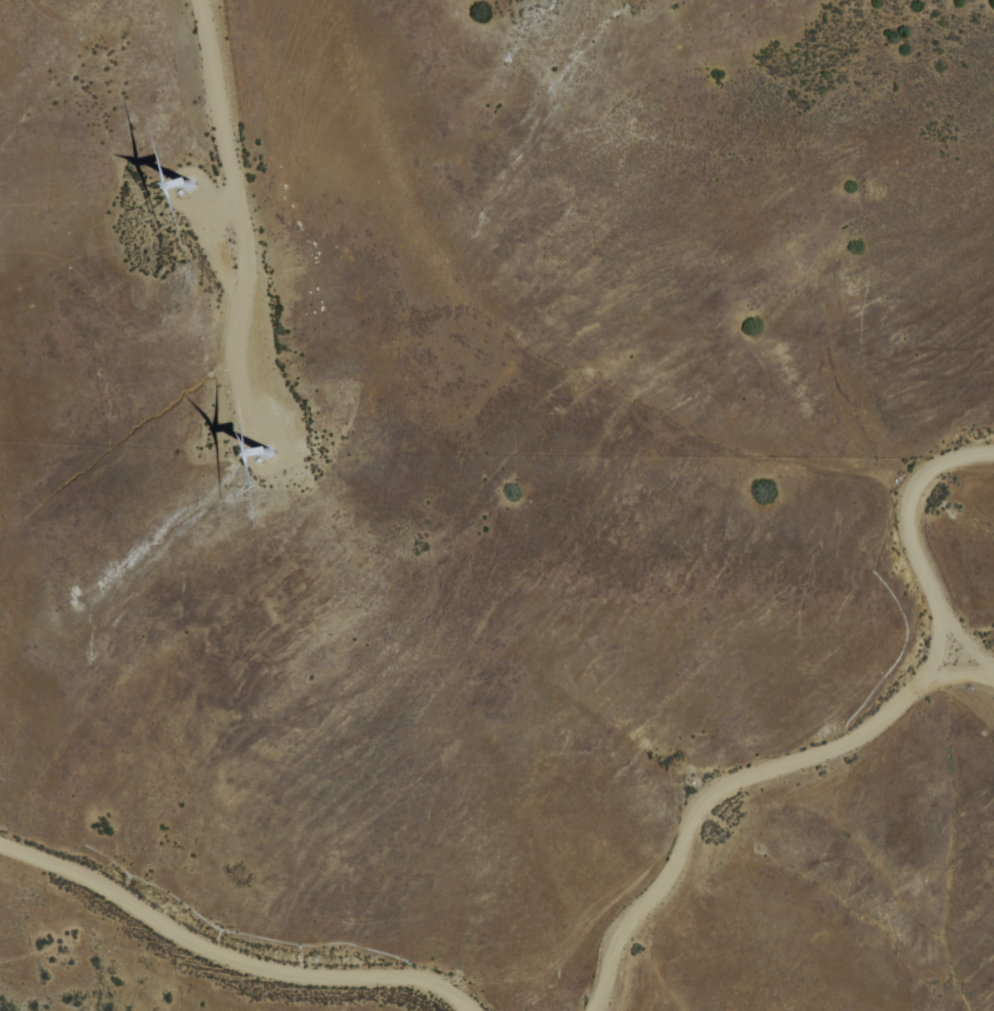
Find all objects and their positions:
wind turbine: (164, 164)
wind turbine: (260, 449)
road: (914, 529)
road: (942, 640)
road: (963, 669)
road: (714, 790)
road: (147, 933)
road: (188, 934)
road: (441, 981)
road: (336, 1002)

